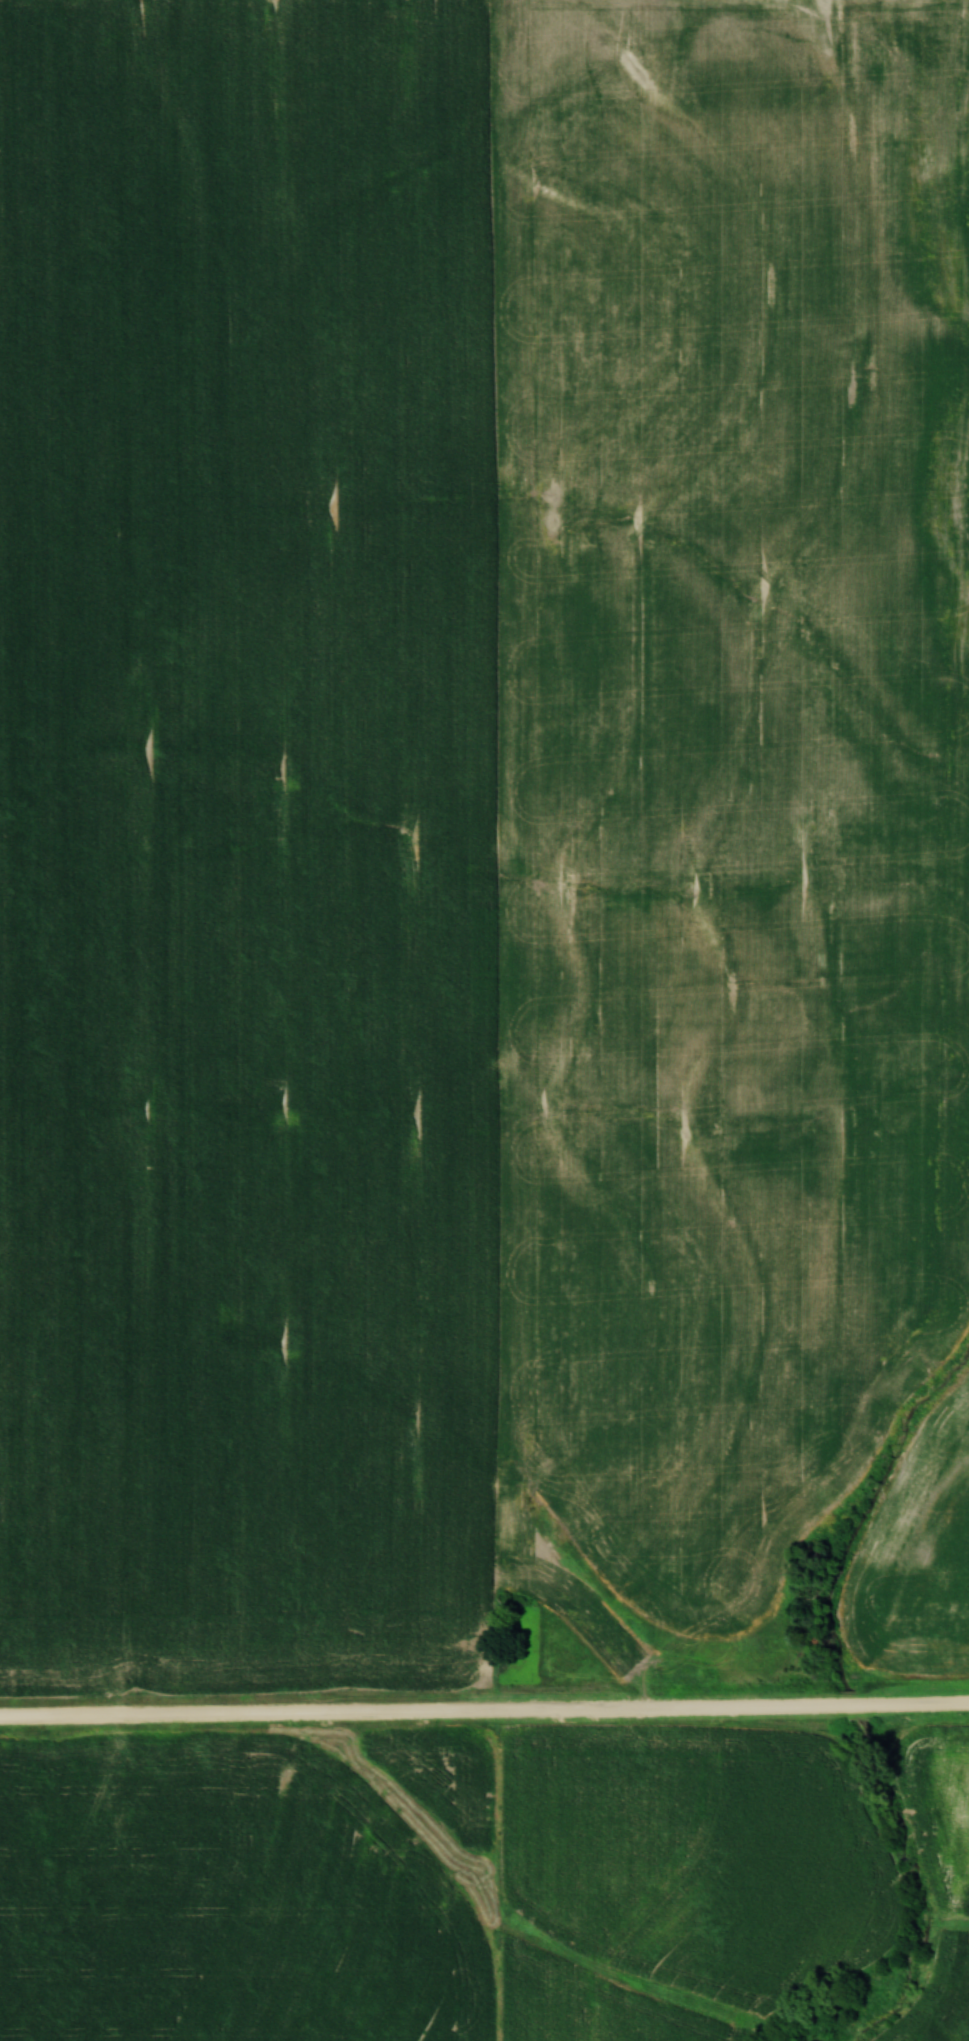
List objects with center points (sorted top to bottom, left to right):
road: (484, 1713)

